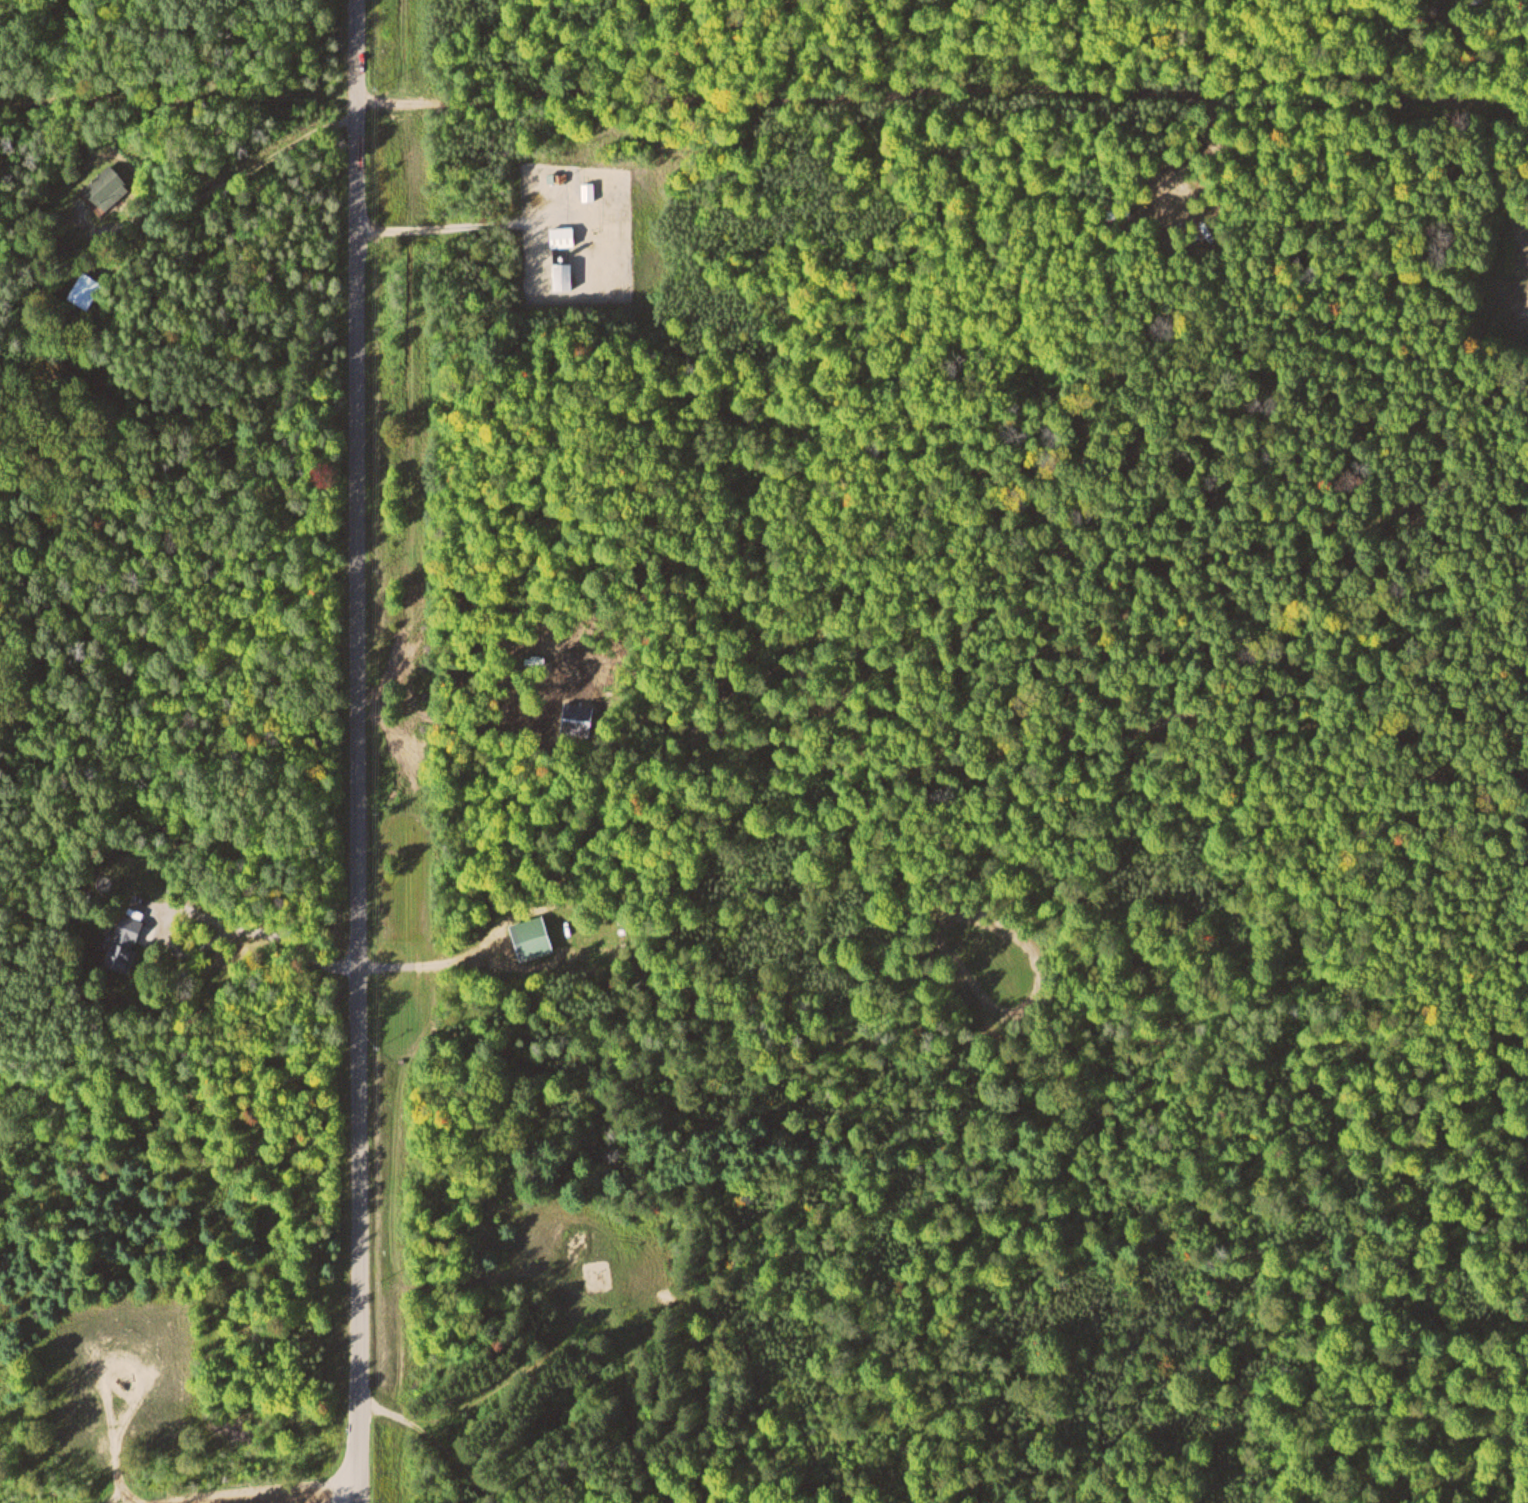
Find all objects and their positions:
road: (942, 92)
road: (178, 95)
road: (233, 173)
building: (103, 189)
building: (586, 191)
building: (559, 237)
building: (559, 274)
building: (83, 290)
road: (359, 751)
building: (528, 937)
building: (119, 938)
petroleum well: (128, 1375)
road: (449, 1439)
road: (317, 1502)

